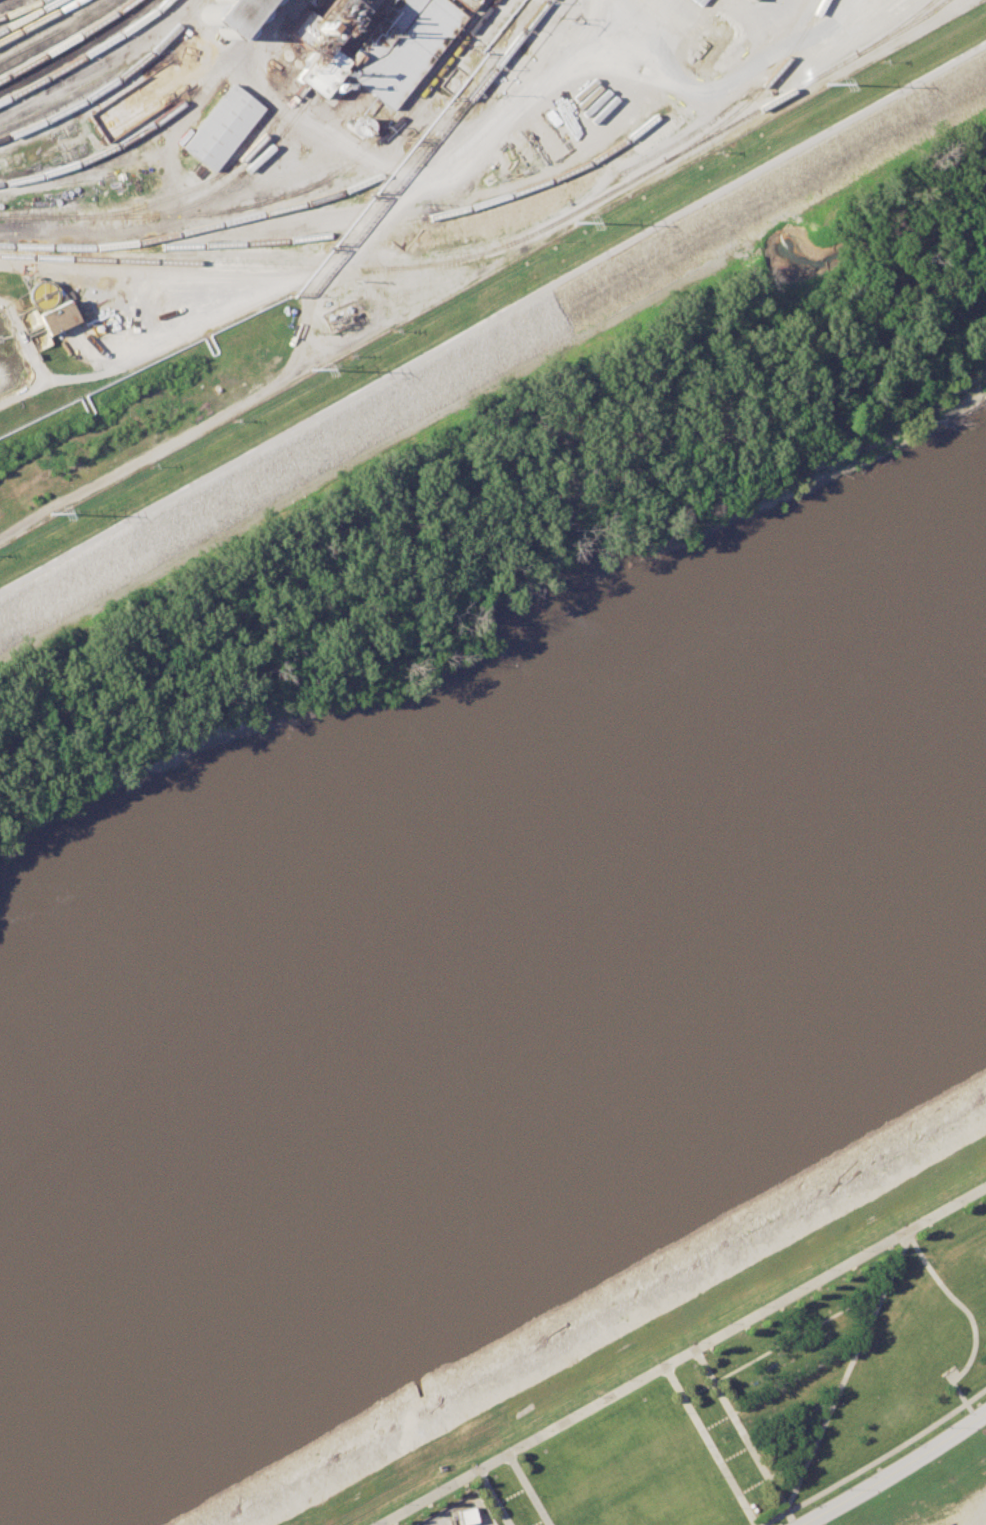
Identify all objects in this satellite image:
building: (754, 0)
railway: (20, 9)
railway: (18, 11)
road: (615, 14)
railway: (30, 16)
building: (227, 16)
silo: (227, 16)
railway: (41, 21)
railway: (48, 26)
railway: (895, 27)
railway: (69, 41)
building: (371, 44)
railway: (87, 54)
railway: (111, 85)
railway: (756, 93)
road: (517, 104)
railway: (157, 122)
building: (224, 128)
railway: (250, 149)
railway: (344, 168)
railway: (231, 181)
railway: (353, 188)
road: (556, 216)
railway: (341, 234)
railway: (505, 247)
building: (54, 317)
road: (492, 317)
river: (493, 1033)
street lamp: (978, 1181)
street lamp: (946, 1200)
street lamp: (913, 1218)
street lamp: (888, 1232)
street lamp: (857, 1250)
street lamp: (929, 1260)
road: (890, 1268)
street lamp: (823, 1269)
street lamp: (791, 1286)
street lamp: (887, 1291)
street lamp: (758, 1305)
street lamp: (975, 1322)
street lamp: (726, 1323)
street lamp: (693, 1341)
road: (781, 1342)
street lamp: (862, 1346)
road: (683, 1354)
street lamp: (703, 1359)
street lamp: (655, 1362)
street lamp: (956, 1366)
street lamp: (626, 1379)
street lamp: (665, 1380)
road: (776, 1386)
street lamp: (720, 1392)
park: (750, 1394)
street lamp: (595, 1396)
street lamp: (835, 1403)
street lamp: (566, 1412)
street lamp: (682, 1412)
street lamp: (958, 1413)
street lamp: (738, 1423)
street lamp: (938, 1425)
street lamp: (535, 1429)
road: (736, 1430)
road: (772, 1430)
street lamp: (700, 1445)
street lamp: (907, 1445)
street lamp: (506, 1446)
road: (705, 1446)
street lamp: (755, 1454)
road: (873, 1458)
street lamp: (810, 1459)
street lamp: (517, 1465)
street lamp: (469, 1467)
road: (892, 1469)
road: (769, 1473)
street lamp: (718, 1476)
street lamp: (858, 1476)
street lamp: (435, 1485)
street lamp: (478, 1486)
street lamp: (773, 1486)
street lamp: (837, 1489)
road: (524, 1490)
street lamp: (534, 1495)
road: (507, 1496)
road: (488, 1498)
street lamp: (403, 1503)
street lamp: (807, 1503)
street lamp: (736, 1508)
building: (461, 1517)
street lamp: (496, 1517)
street lamp: (370, 1522)
road: (535, 1522)

